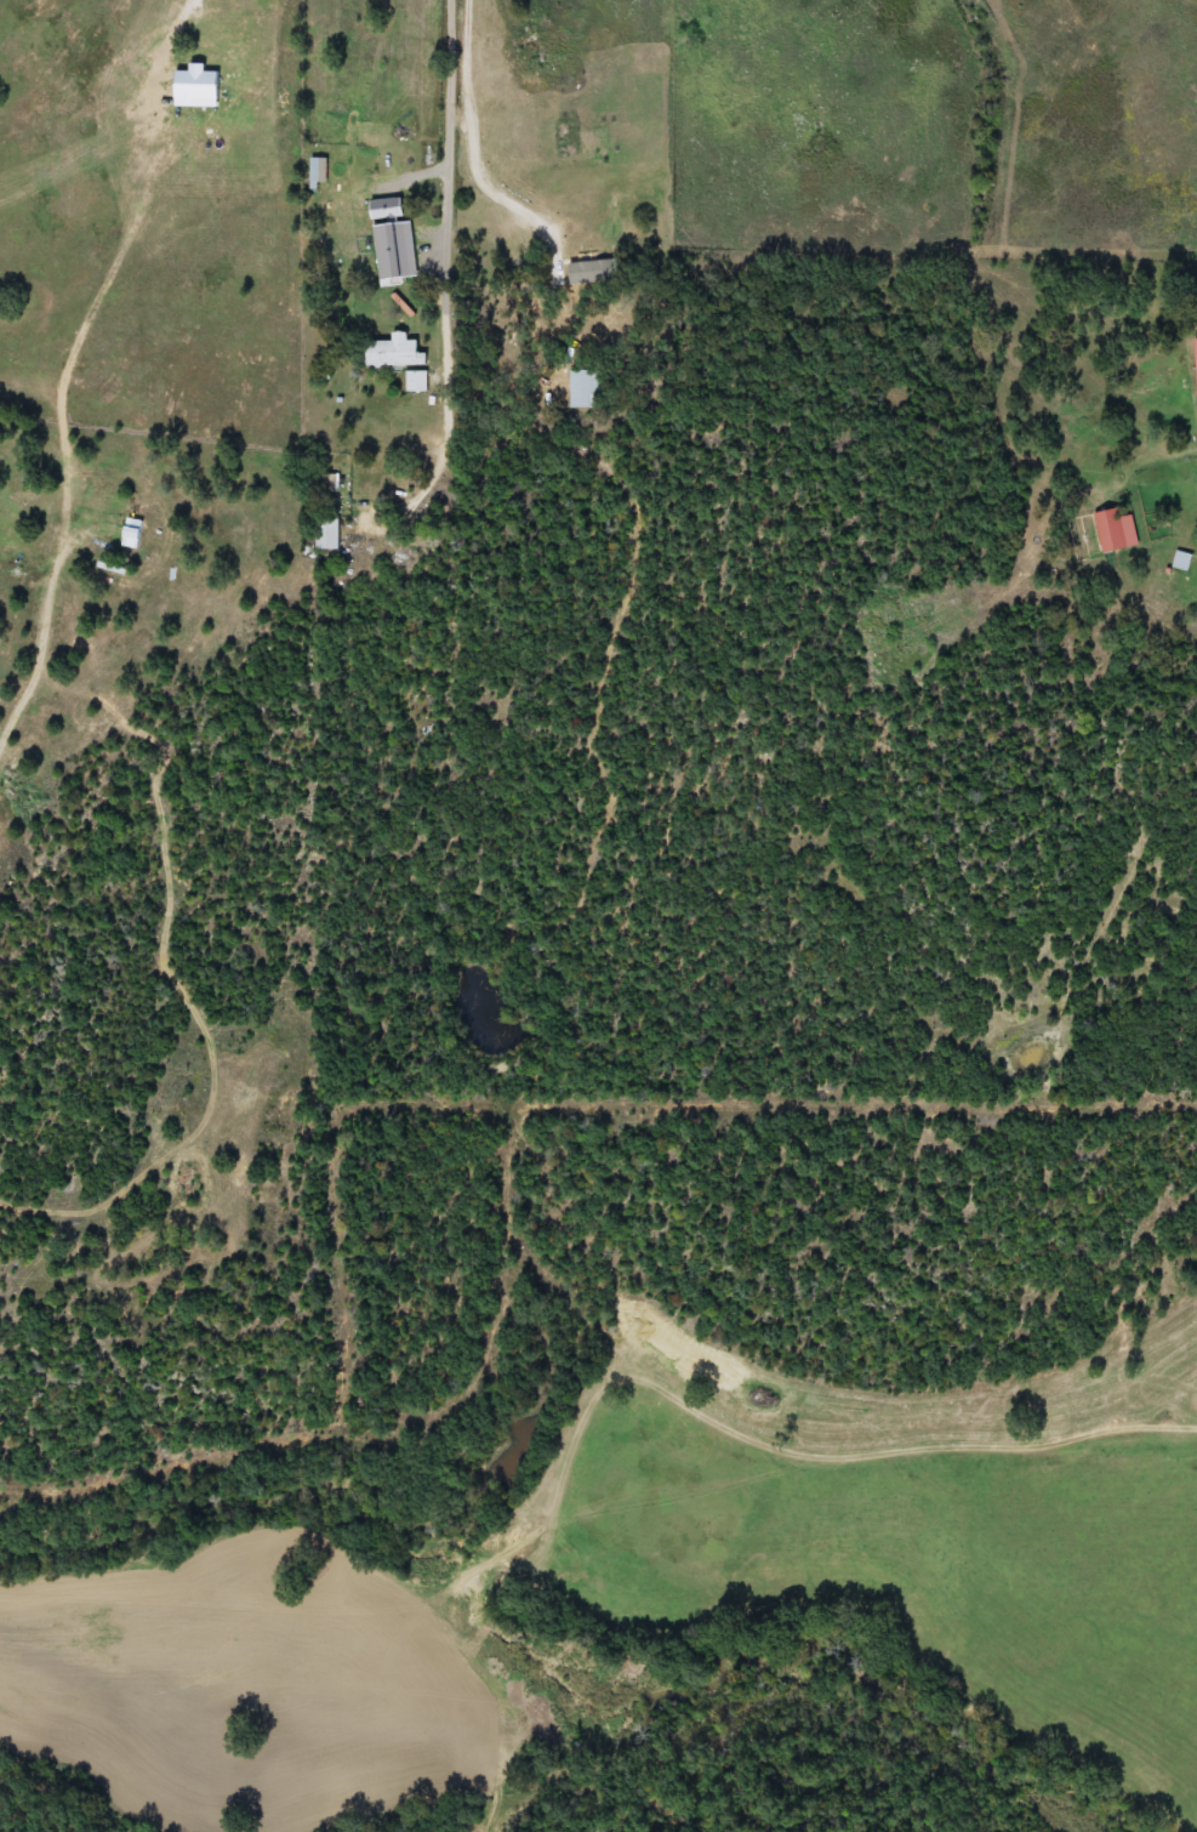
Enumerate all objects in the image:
road: (200, 21)
building: (318, 173)
road: (450, 250)
building: (594, 272)
building: (395, 351)
building: (1193, 365)
building: (418, 381)
building: (582, 388)
road: (592, 442)
building: (136, 534)
building: (1112, 535)
building: (331, 536)

